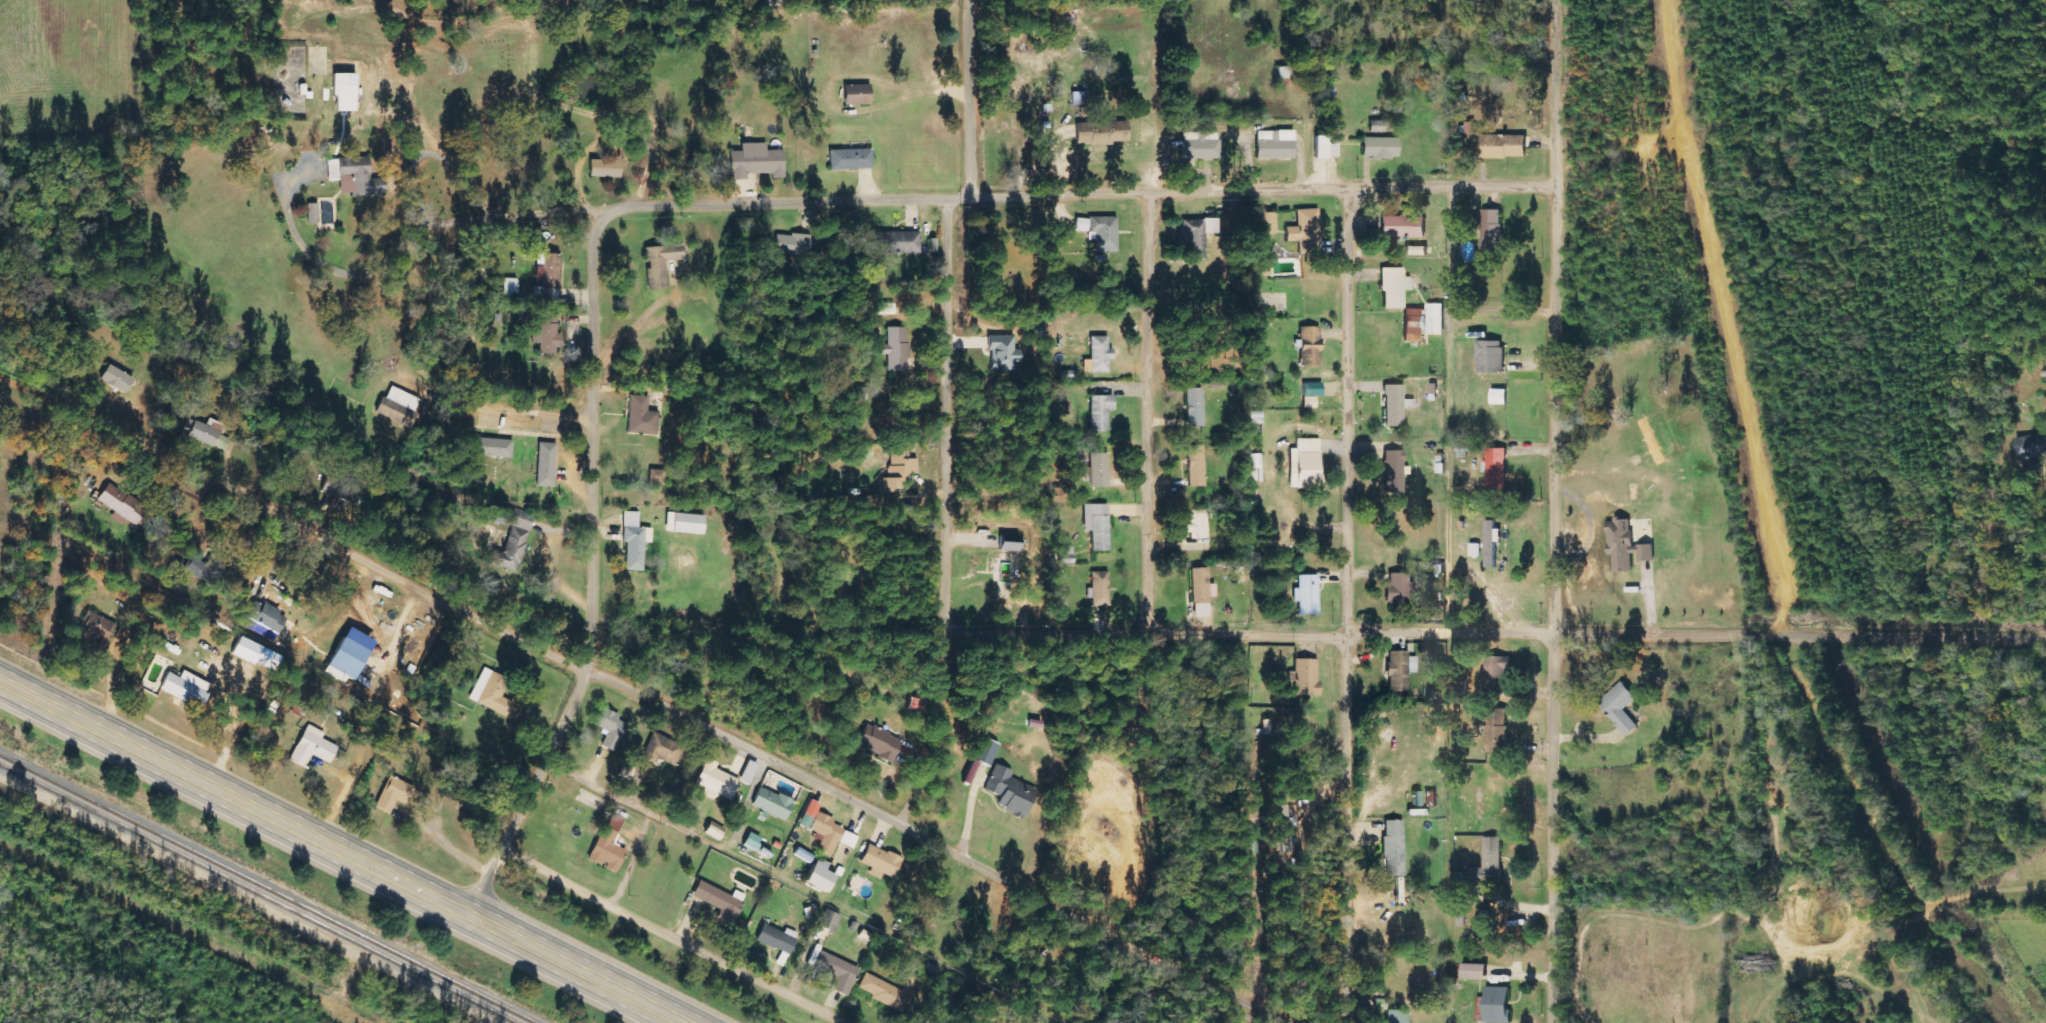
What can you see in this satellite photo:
building: (344, 91)
building: (857, 94)
road: (968, 99)
building: (1377, 126)
building: (1102, 132)
building: (1275, 144)
building: (1201, 145)
building: (1503, 145)
building: (1380, 147)
building: (851, 159)
building: (756, 161)
building: (605, 168)
building: (354, 176)
road: (1246, 191)
road: (718, 203)
building: (312, 213)
building: (1268, 223)
building: (1403, 226)
building: (1491, 230)
building: (1100, 231)
building: (1306, 231)
building: (1197, 236)
building: (898, 242)
building: (791, 244)
building: (660, 263)
building: (1264, 270)
building: (550, 278)
building: (511, 286)
building: (1394, 287)
building: (887, 308)
building: (1423, 322)
building: (546, 334)
building: (1310, 346)
road: (455, 348)
building: (897, 349)
building: (1002, 352)
building: (1098, 356)
building: (1490, 356)
building: (117, 378)
road: (1453, 389)
building: (859, 394)
building: (1311, 394)
building: (1498, 396)
building: (1396, 405)
building: (398, 407)
building: (1194, 407)
road: (952, 411)
building: (1100, 412)
road: (602, 413)
road: (1158, 415)
building: (641, 417)
building: (210, 434)
building: (1651, 441)
building: (2030, 446)
building: (491, 448)
building: (546, 464)
building: (1306, 464)
building: (1196, 466)
building: (1256, 468)
building: (1099, 469)
building: (1496, 469)
building: (899, 470)
building: (1393, 471)
building: (657, 477)
building: (121, 504)
road: (1561, 511)
building: (685, 523)
building: (1197, 524)
building: (1097, 525)
road: (332, 536)
building: (514, 542)
building: (634, 542)
building: (1491, 542)
building: (1009, 543)
building: (1625, 545)
building: (1474, 550)
building: (205, 570)
building: (1398, 589)
building: (1099, 590)
building: (1201, 592)
building: (1307, 595)
road: (1354, 605)
building: (266, 618)
building: (95, 632)
road: (598, 632)
road: (1446, 637)
road: (724, 653)
building: (256, 654)
building: (349, 655)
building: (1400, 670)
building: (1496, 670)
building: (1305, 677)
building: (185, 688)
building: (491, 692)
building: (1620, 706)
road: (574, 712)
building: (610, 728)
road: (724, 730)
building: (1497, 731)
building: (883, 745)
building: (313, 747)
building: (662, 750)
building: (986, 751)
building: (749, 772)
building: (716, 780)
building: (1009, 792)
building: (393, 794)
building: (772, 803)
road: (528, 811)
building: (1284, 826)
building: (823, 828)
building: (713, 832)
building: (847, 840)
building: (751, 841)
building: (609, 845)
building: (1393, 848)
road: (341, 851)
building: (1492, 855)
building: (880, 860)
building: (819, 876)
railway: (273, 885)
road: (490, 886)
railway: (257, 893)
building: (720, 903)
road: (1073, 903)
building: (828, 921)
building: (1482, 923)
road: (676, 937)
building: (777, 939)
building: (1474, 971)
building: (837, 972)
building: (880, 990)
building: (1497, 1004)
building: (1480, 1009)
building: (1398, 1016)

